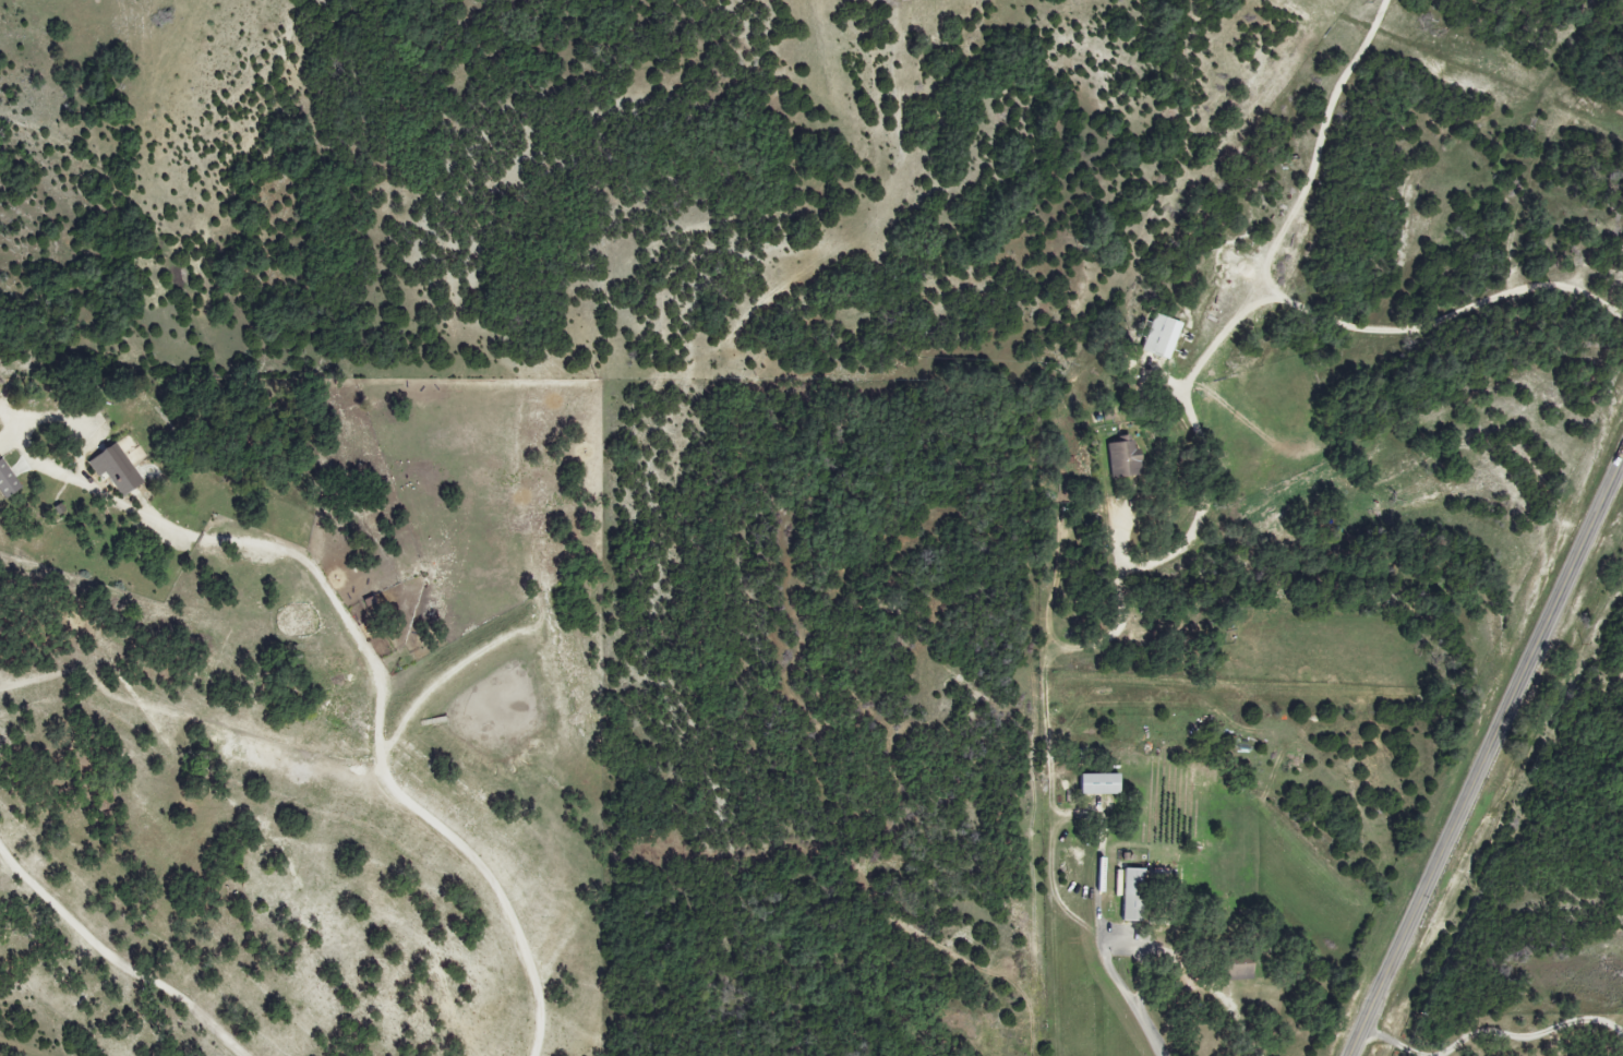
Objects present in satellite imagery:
road: (1288, 305)
building: (1162, 336)
building: (1125, 457)
road: (1213, 465)
building: (116, 469)
building: (8, 480)
road: (368, 653)
road: (1484, 755)
building: (1099, 783)
building: (1133, 895)
road: (1105, 944)
road: (117, 962)
road: (1488, 1027)

